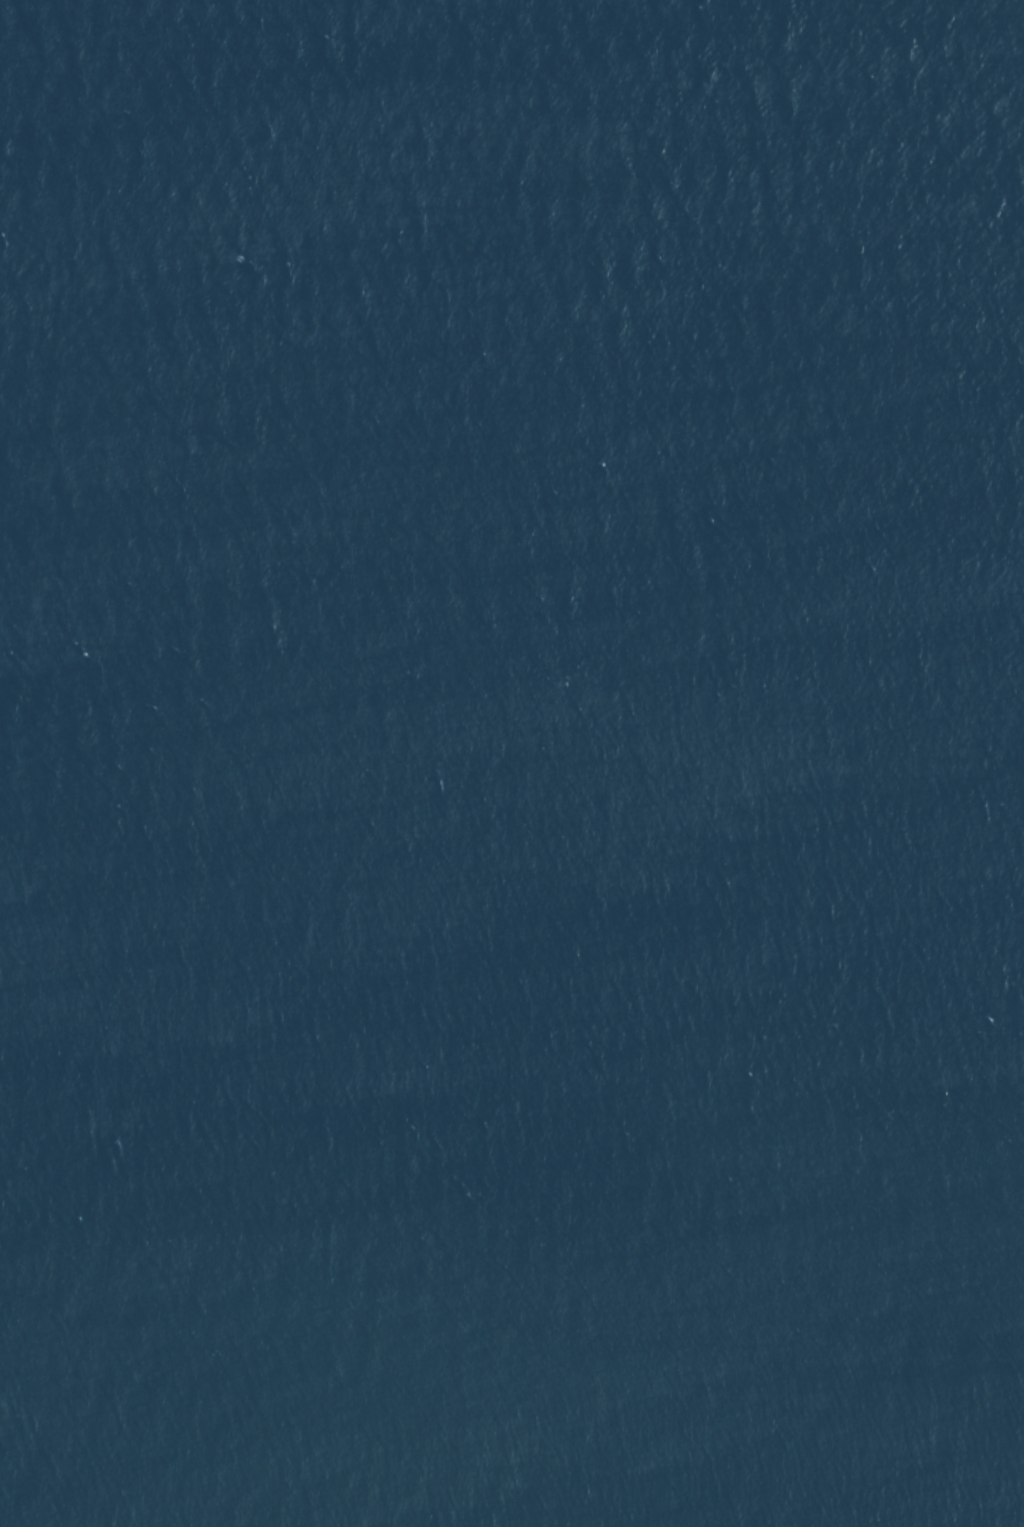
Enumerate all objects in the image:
river: (503, 956)

